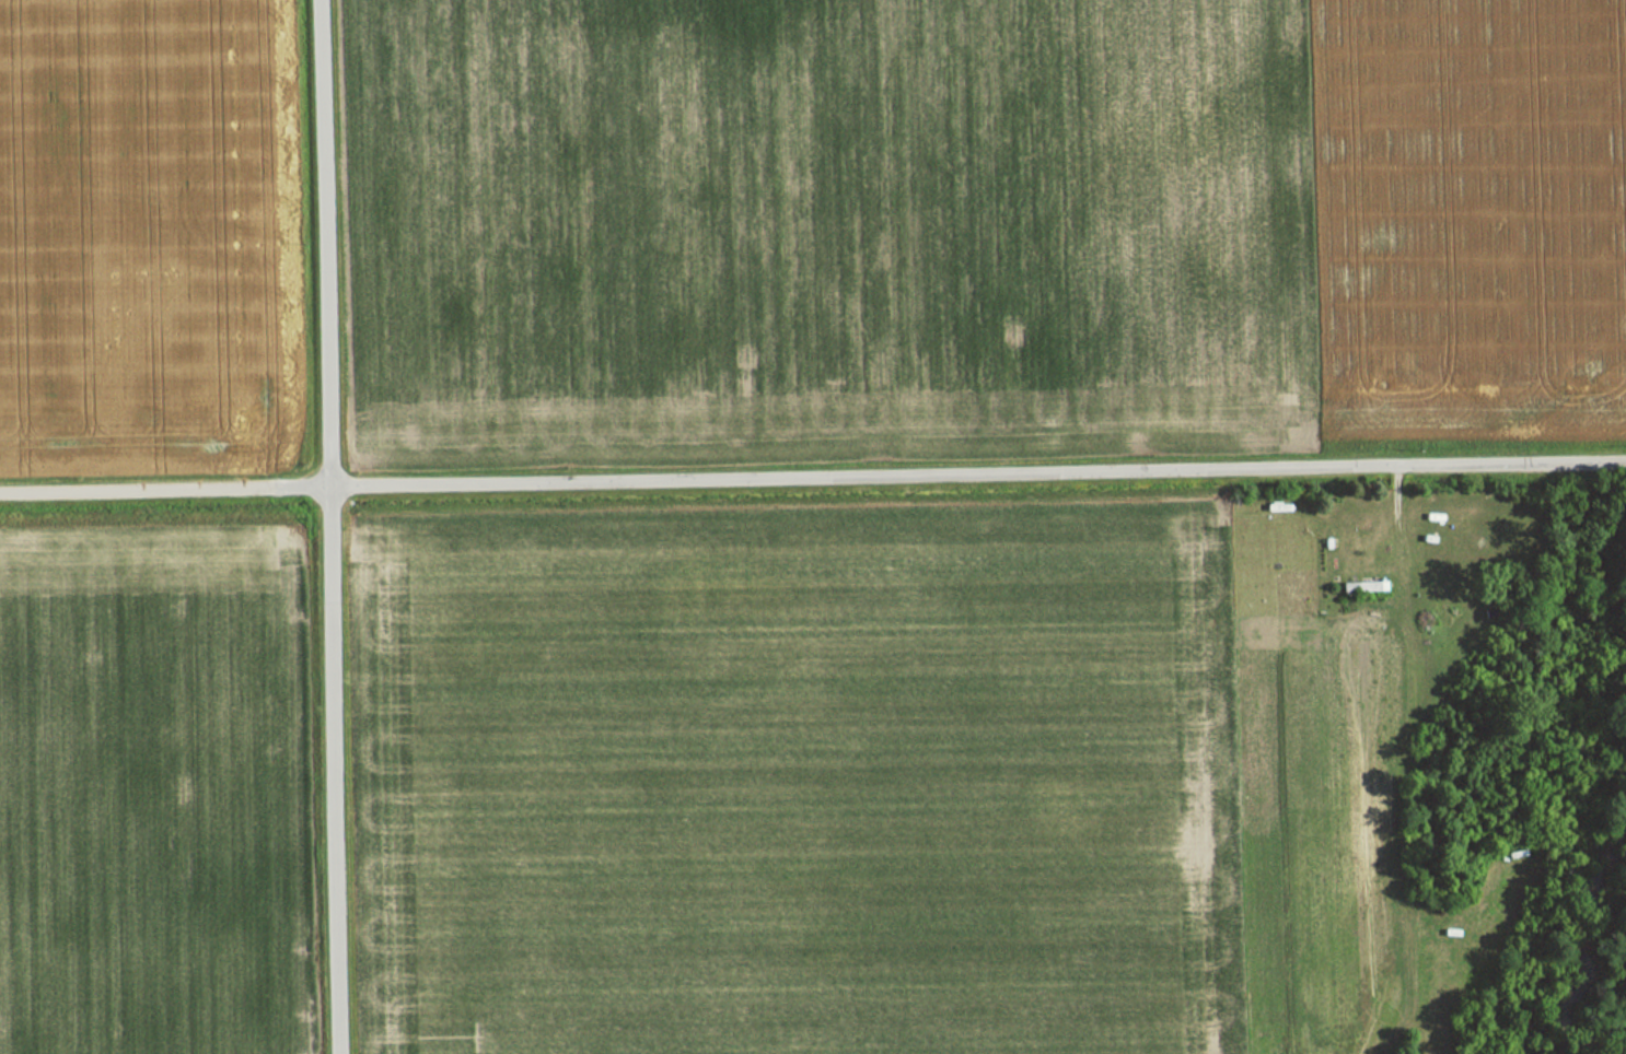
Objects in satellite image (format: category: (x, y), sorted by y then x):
crop: (984, 221)
crop: (135, 232)
road: (323, 243)
road: (978, 476)
road: (165, 489)
building: (1359, 586)
road: (335, 770)
crop: (799, 783)
crop: (150, 792)

